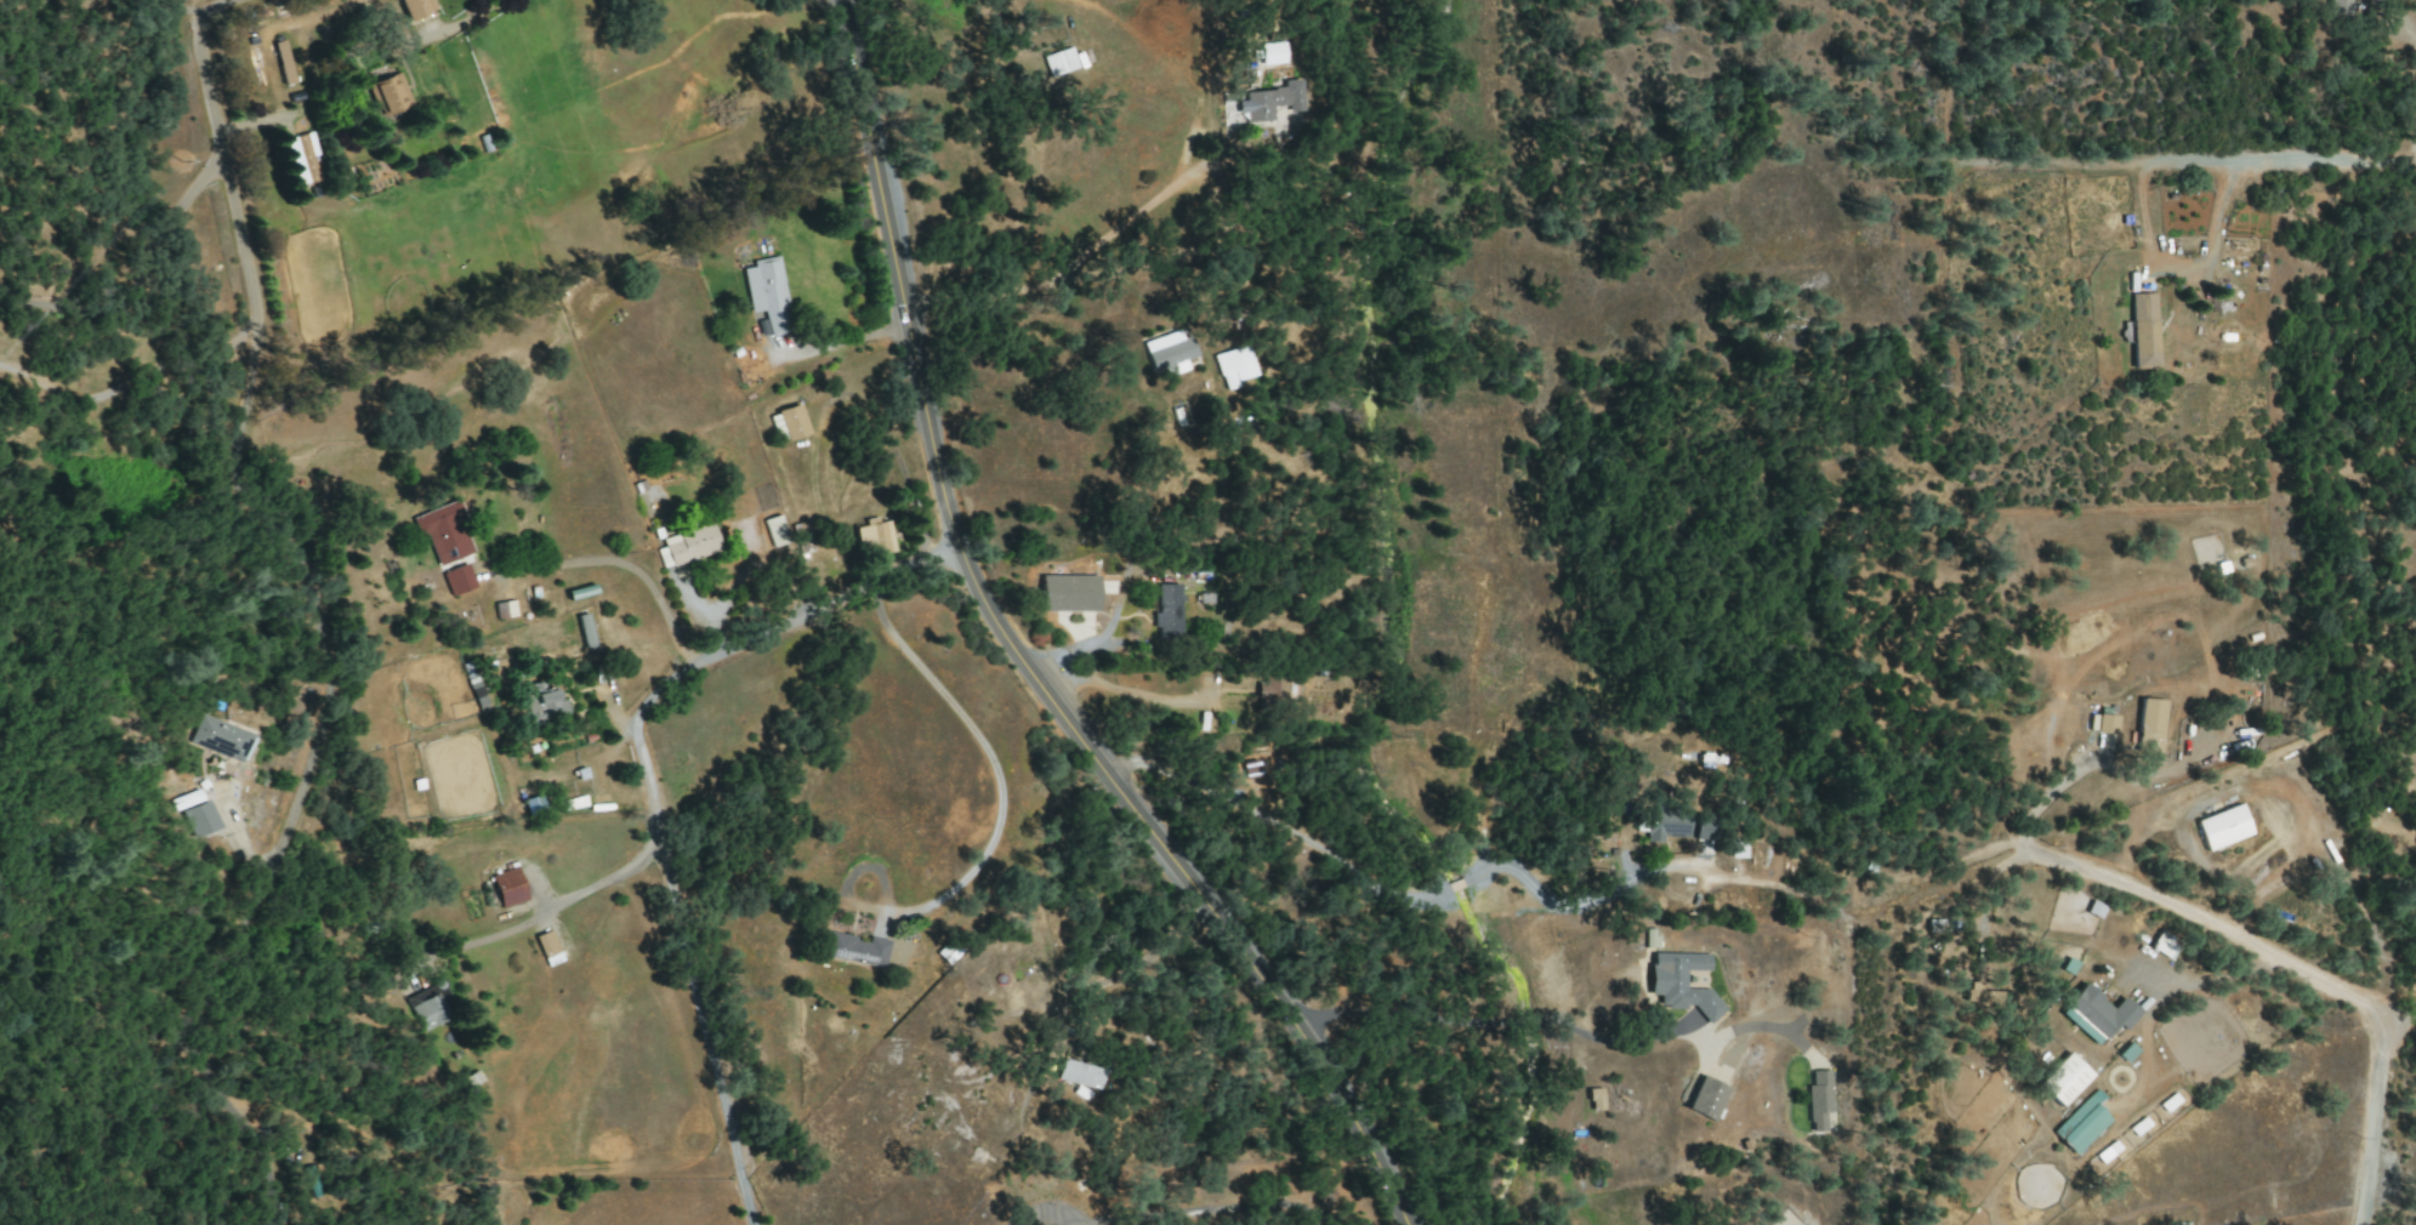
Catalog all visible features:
building: (2338, 4)
building: (415, 7)
road: (186, 10)
road: (455, 18)
road: (2404, 30)
building: (1270, 53)
building: (283, 62)
building: (1058, 62)
building: (390, 93)
building: (1268, 101)
road: (2409, 153)
building: (303, 159)
road: (2283, 164)
road: (1075, 257)
road: (130, 267)
road: (2173, 268)
building: (766, 296)
building: (2143, 331)
road: (843, 341)
building: (1169, 353)
building: (1232, 366)
road: (131, 395)
building: (791, 422)
building: (774, 531)
building: (443, 532)
building: (801, 537)
building: (872, 539)
building: (689, 545)
road: (624, 565)
building: (457, 580)
building: (1068, 593)
building: (504, 609)
building: (1166, 611)
road: (326, 625)
building: (584, 631)
road: (1023, 659)
building: (1270, 688)
road: (1127, 695)
building: (541, 701)
building: (2105, 724)
building: (2148, 725)
building: (218, 739)
road: (989, 760)
road: (643, 765)
road: (2050, 793)
building: (187, 800)
building: (533, 805)
building: (199, 819)
building: (1665, 824)
building: (1705, 827)
building: (2222, 827)
building: (507, 888)
road: (1398, 896)
road: (568, 899)
building: (2092, 910)
road: (2221, 934)
building: (1649, 939)
building: (2161, 945)
building: (547, 948)
building: (853, 950)
road: (1125, 964)
road: (2204, 981)
building: (1679, 982)
building: (426, 1008)
building: (2094, 1014)
road: (1493, 1021)
building: (1079, 1075)
building: (2063, 1079)
building: (1705, 1099)
building: (1593, 1100)
building: (1818, 1100)
road: (2367, 1119)
road: (250, 1122)
building: (2080, 1127)
road: (744, 1198)

